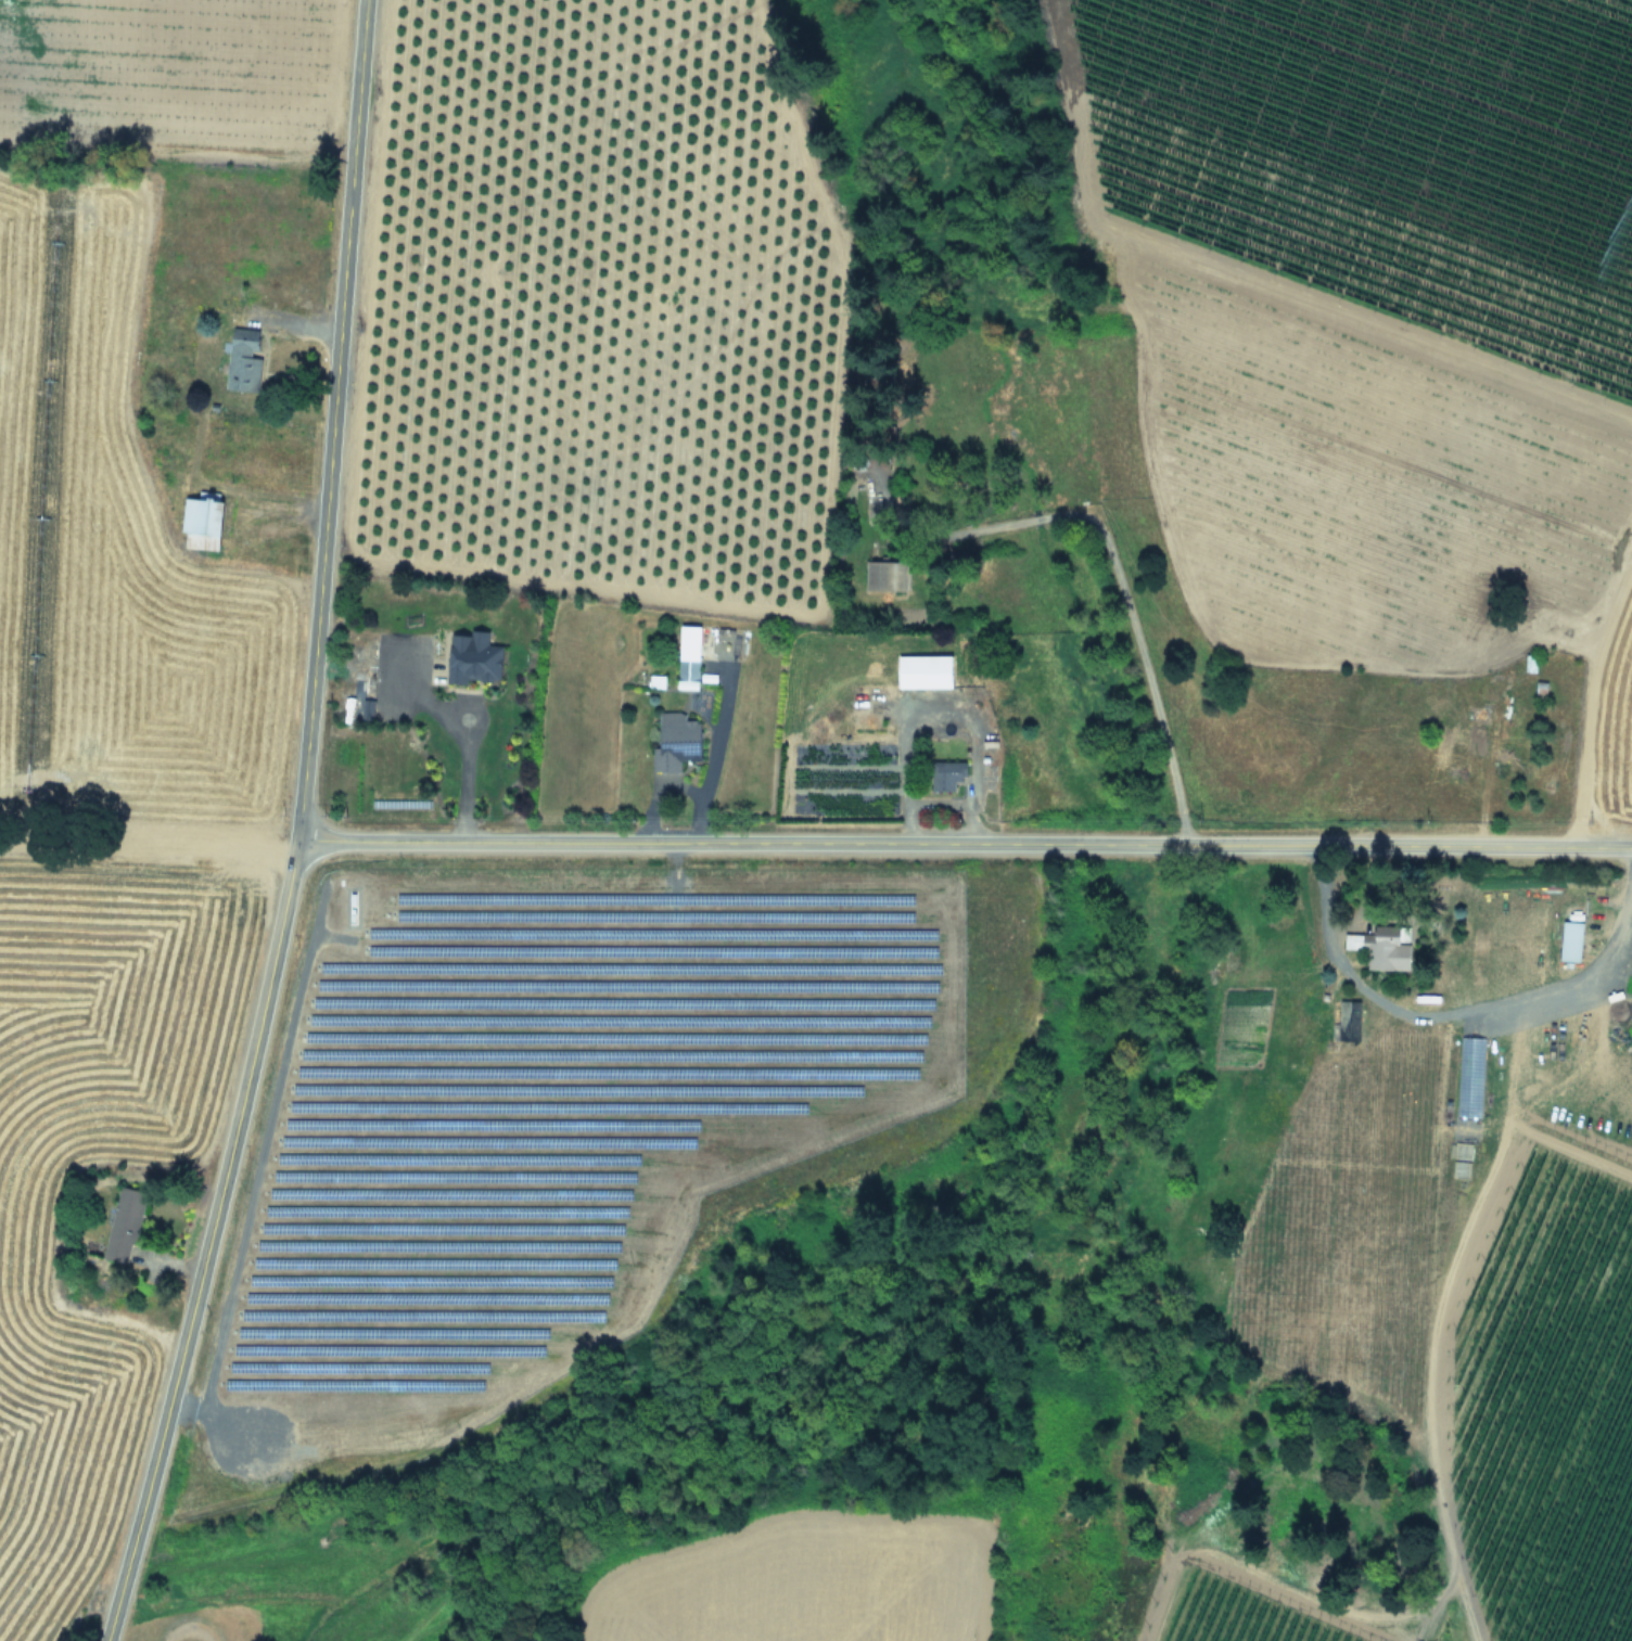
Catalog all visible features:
building: (245, 362)
crop: (1380, 387)
building: (204, 524)
road: (1110, 562)
building: (888, 579)
building: (259, 637)
crop: (130, 640)
building: (475, 661)
building: (928, 674)
building: (689, 676)
road: (461, 741)
building: (678, 744)
road: (709, 756)
building: (948, 778)
road: (297, 830)
road: (965, 844)
building: (1568, 940)
building: (1378, 946)
road: (1459, 1011)
building: (1346, 1021)
crop: (568, 1119)
building: (125, 1229)
crop: (1480, 1287)
crop: (796, 1586)
crop: (1236, 1616)

